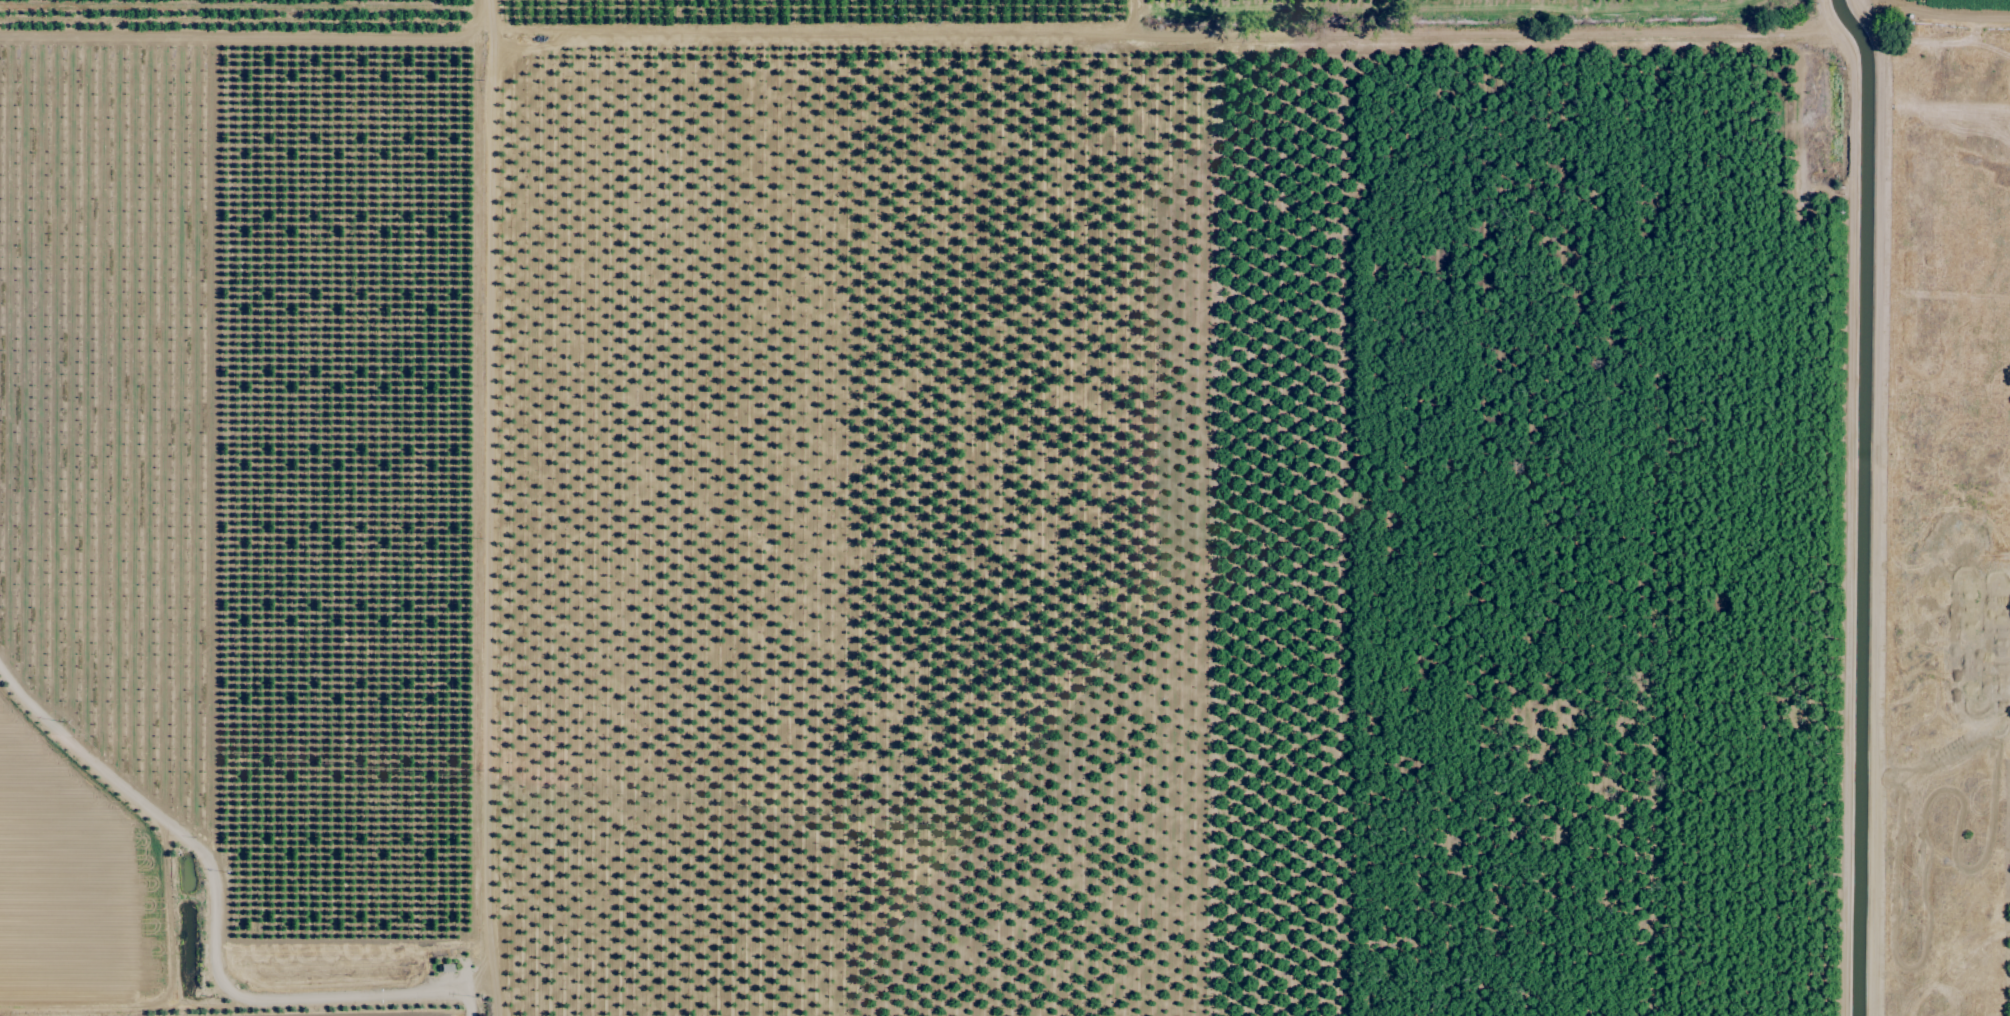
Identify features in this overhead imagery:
road: (212, 915)
crop: (90, 916)

